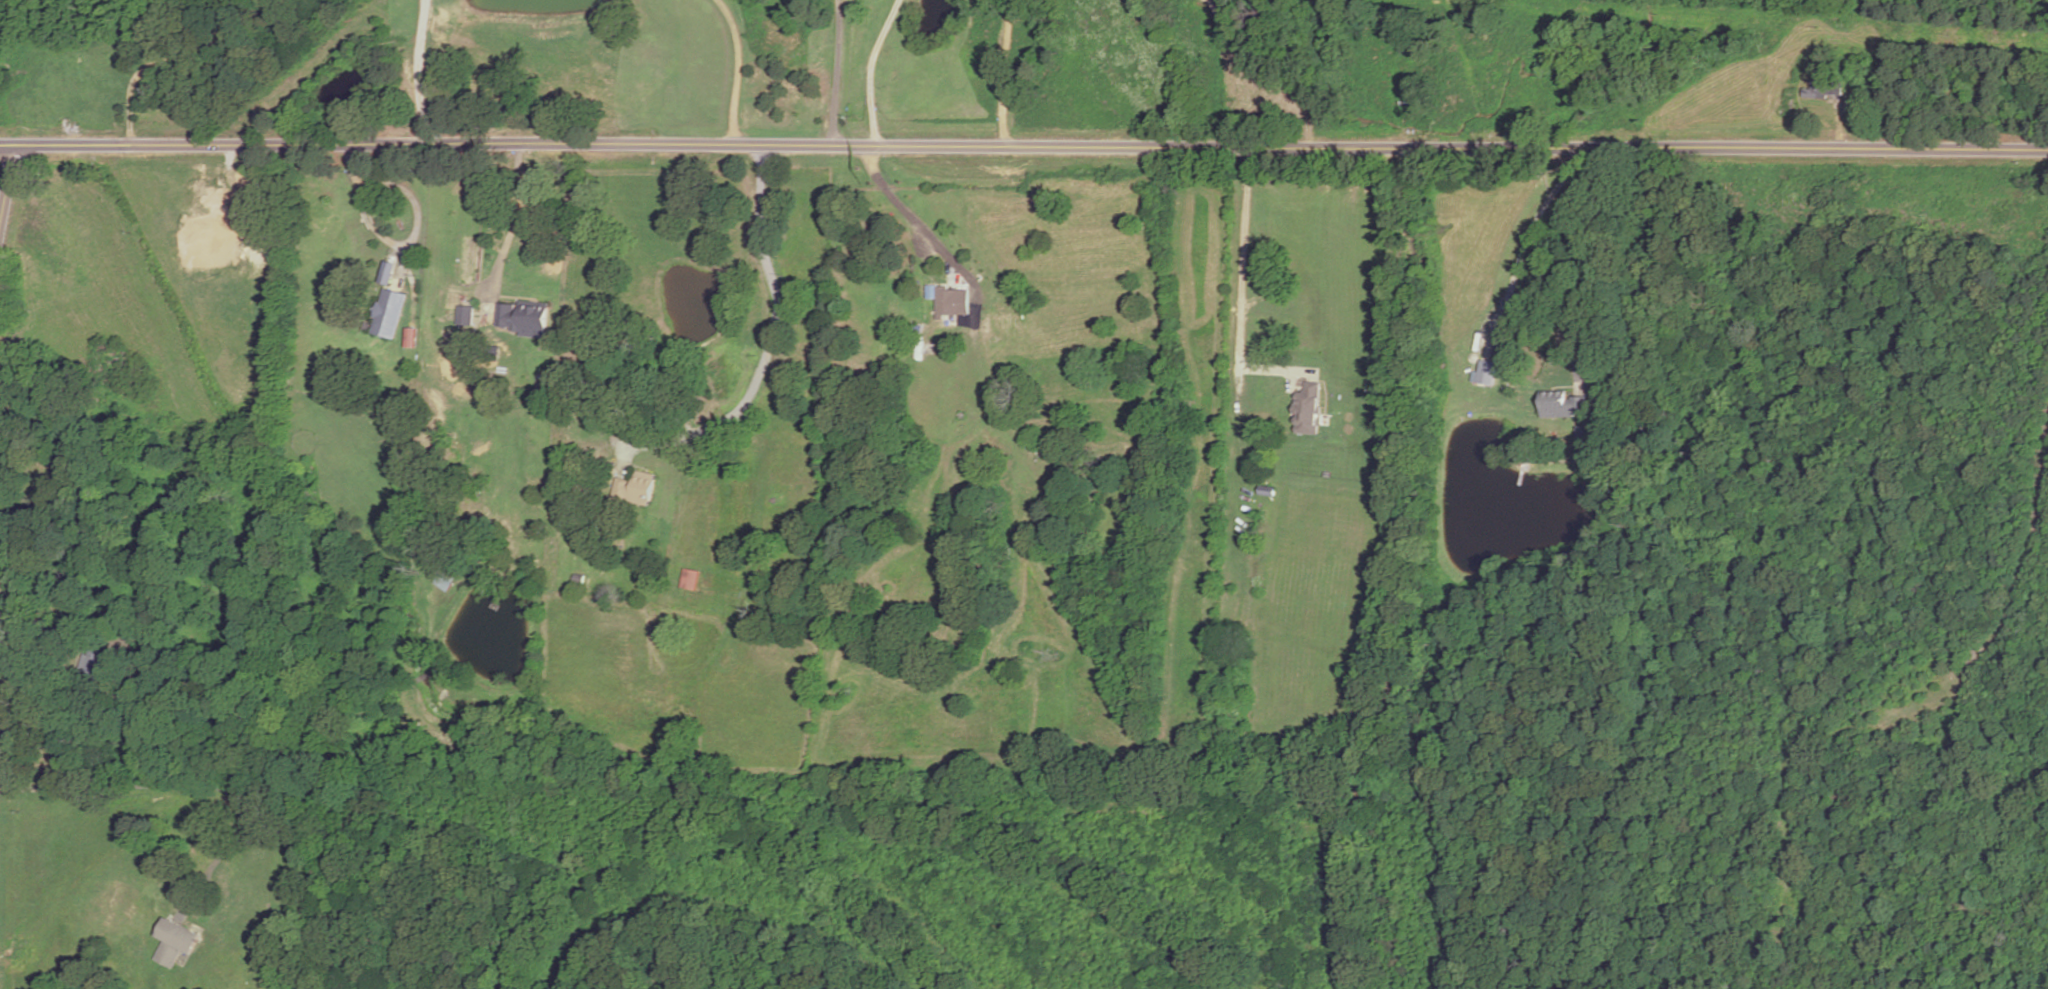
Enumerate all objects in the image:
road: (165, 62)
road: (738, 69)
road: (868, 70)
road: (416, 71)
road: (1007, 72)
road: (835, 73)
building: (1823, 89)
building: (1790, 108)
road: (1023, 146)
road: (7, 183)
road: (408, 195)
road: (372, 226)
road: (922, 230)
road: (509, 234)
road: (1600, 267)
building: (946, 302)
building: (390, 314)
building: (466, 315)
building: (523, 318)
road: (765, 353)
road: (1268, 366)
building: (1484, 372)
road: (1233, 388)
road: (994, 392)
building: (1561, 405)
building: (1307, 408)
building: (1582, 434)
building: (1045, 446)
pier: (1518, 476)
building: (633, 490)
building: (712, 542)
building: (448, 577)
building: (579, 578)
building: (689, 578)
pier: (500, 597)
road: (42, 628)
building: (99, 669)
building: (174, 943)

